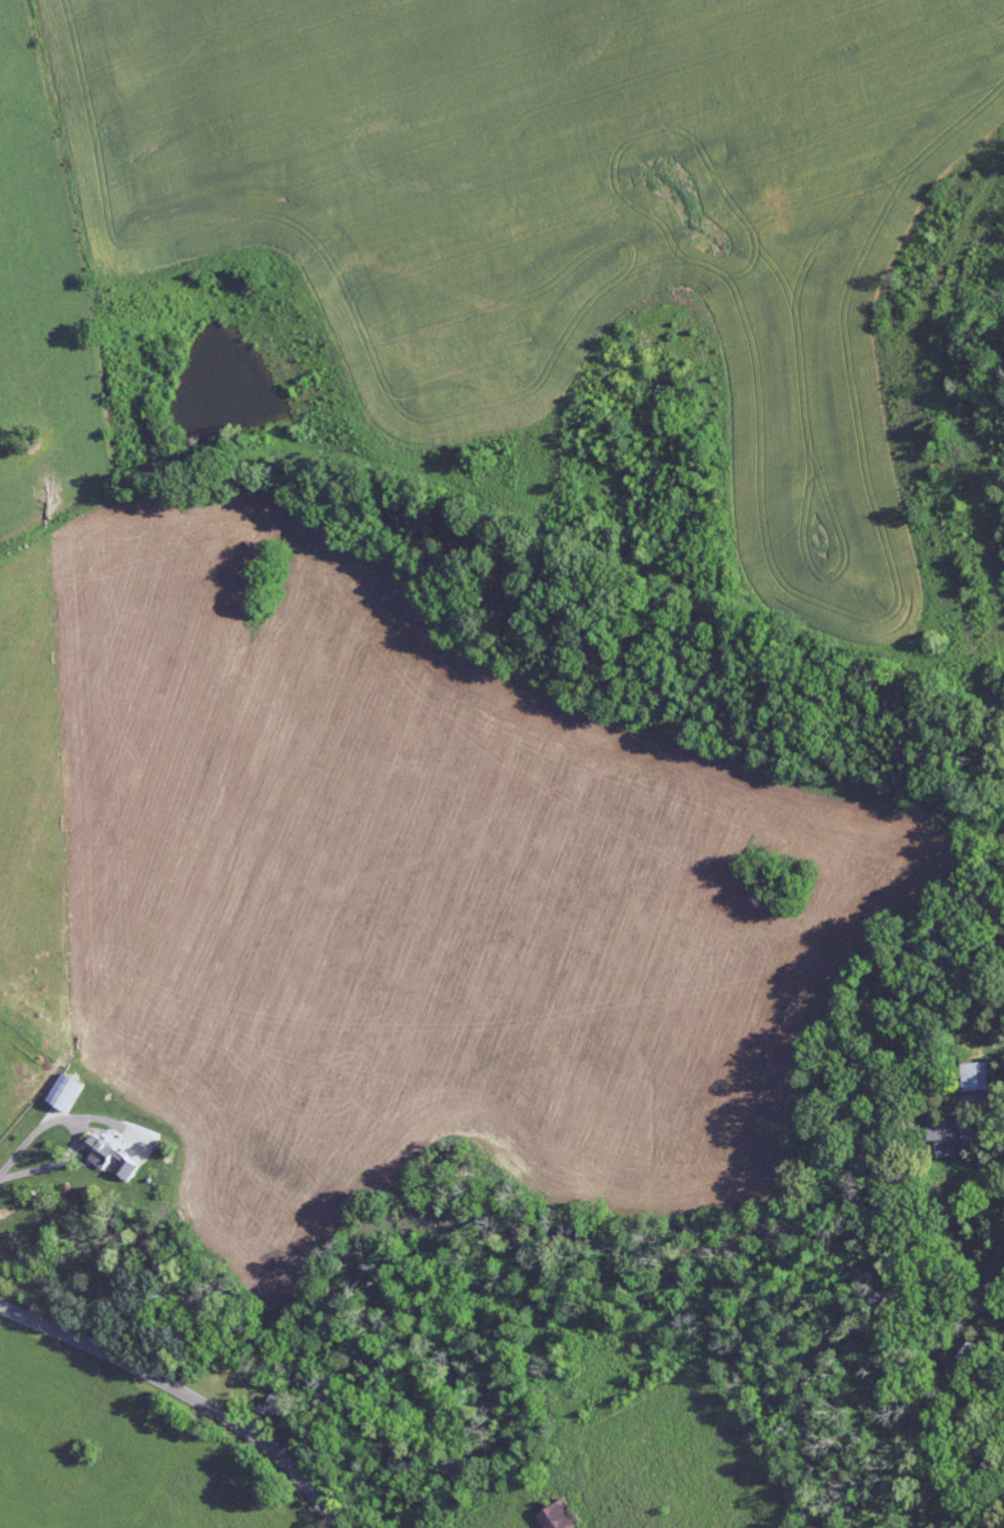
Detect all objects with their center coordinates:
building: (977, 1076)
building: (64, 1090)
road: (75, 1129)
building: (947, 1137)
building: (112, 1158)
road: (187, 1393)
building: (278, 1409)
building: (561, 1517)

